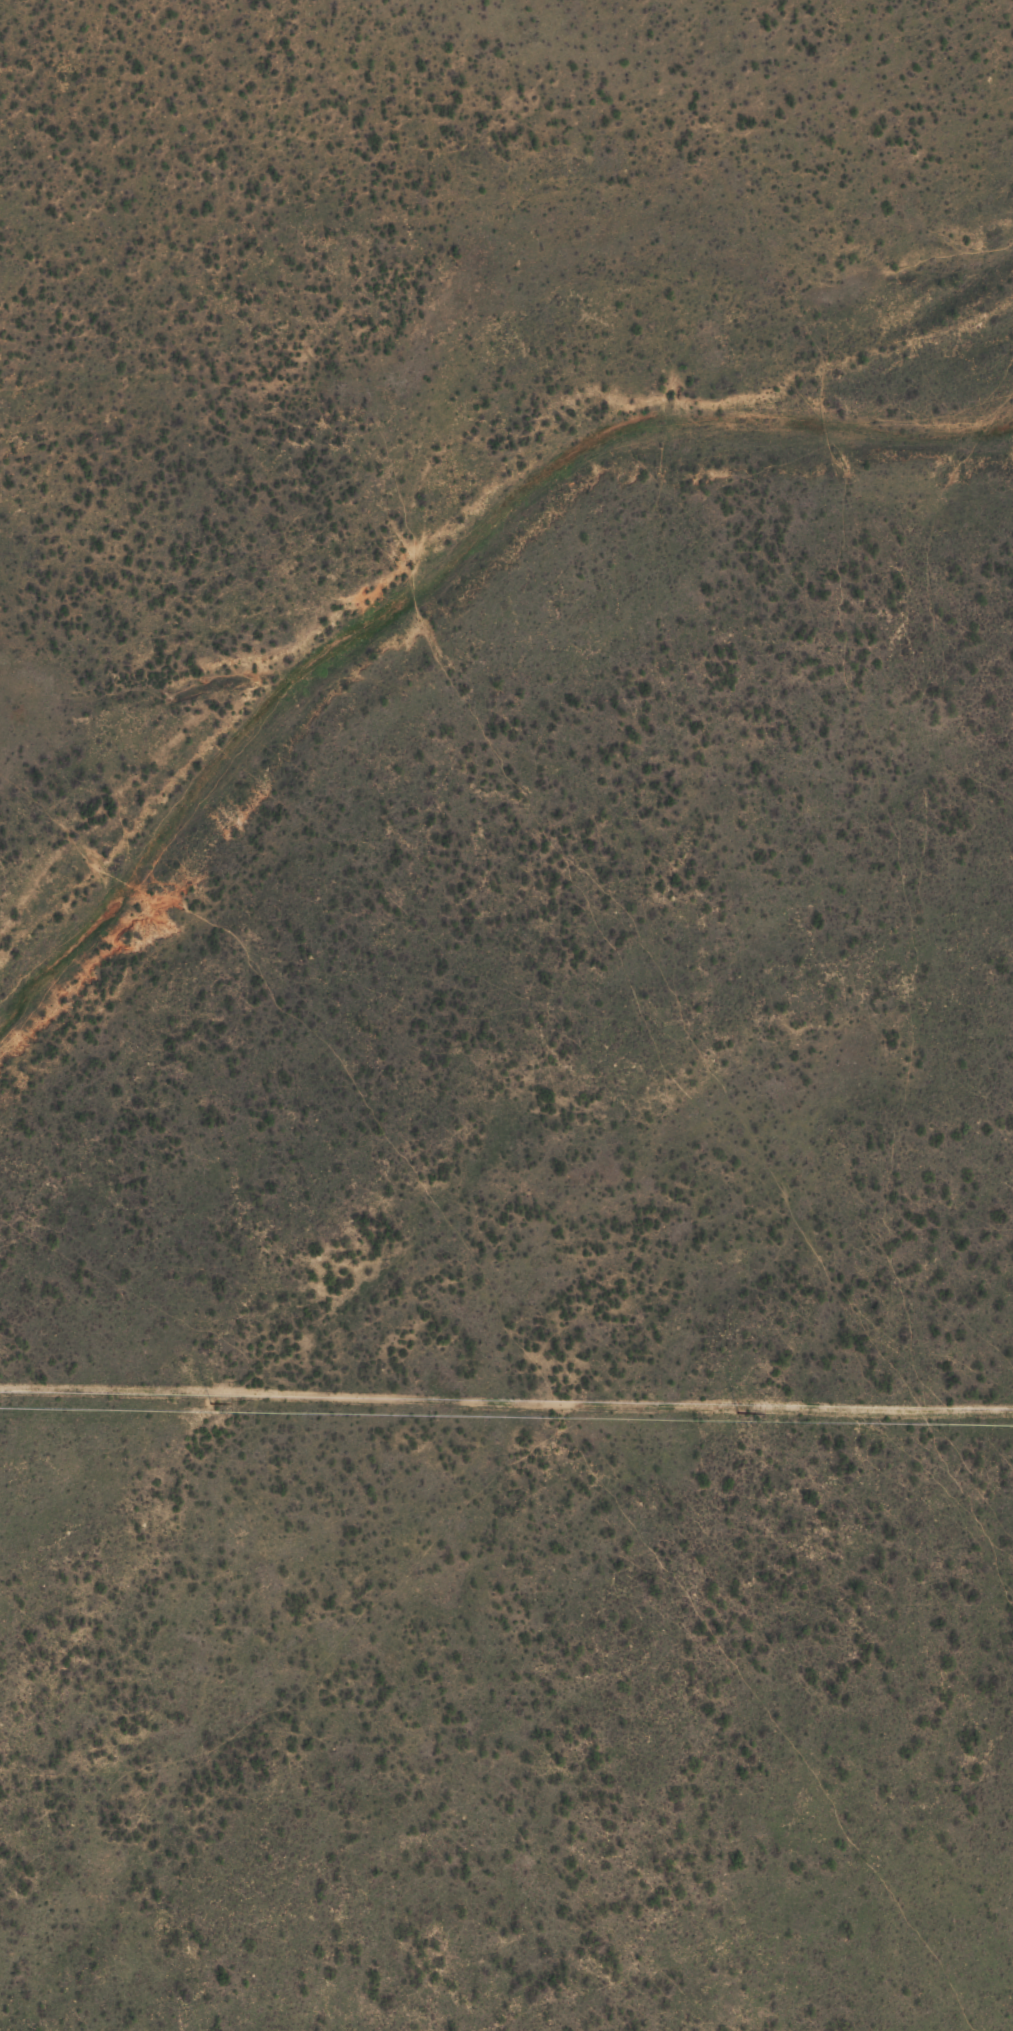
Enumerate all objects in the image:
power tower: (208, 1402)
power tower: (735, 1411)

